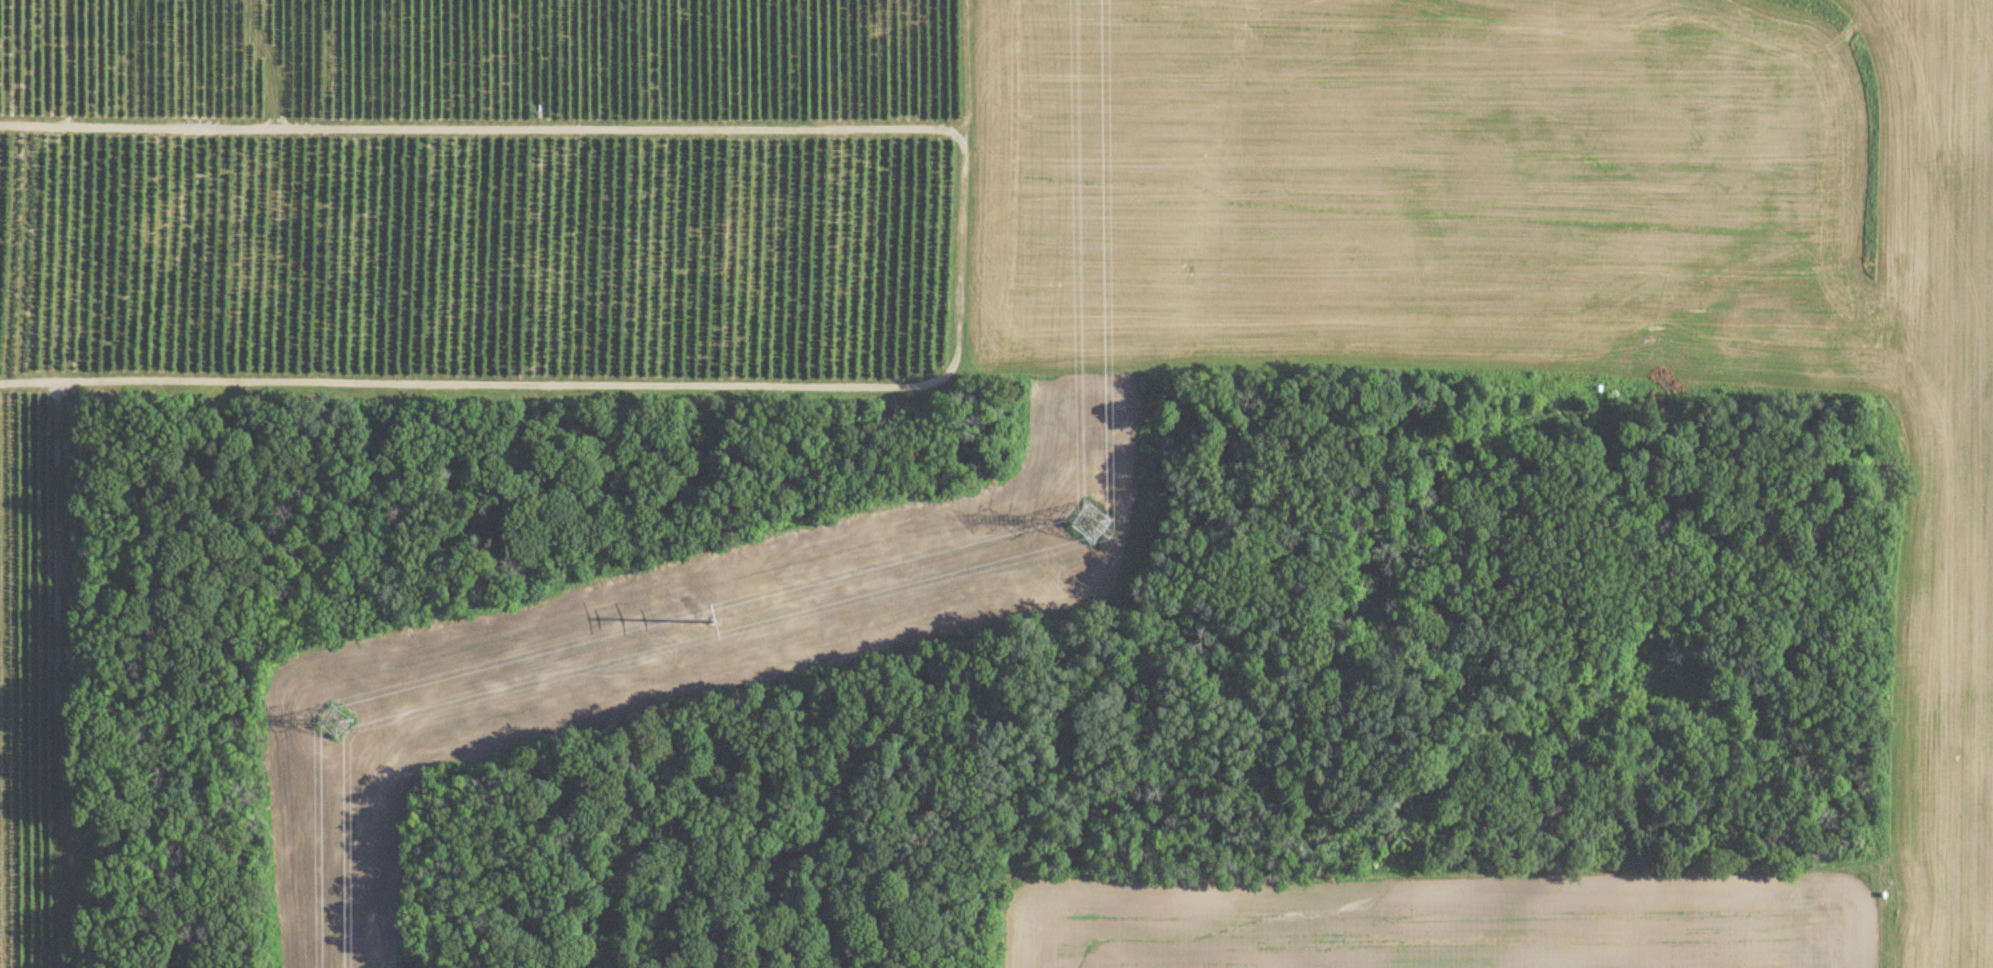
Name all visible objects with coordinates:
power tower: (1096, 529)
power tower: (325, 711)

